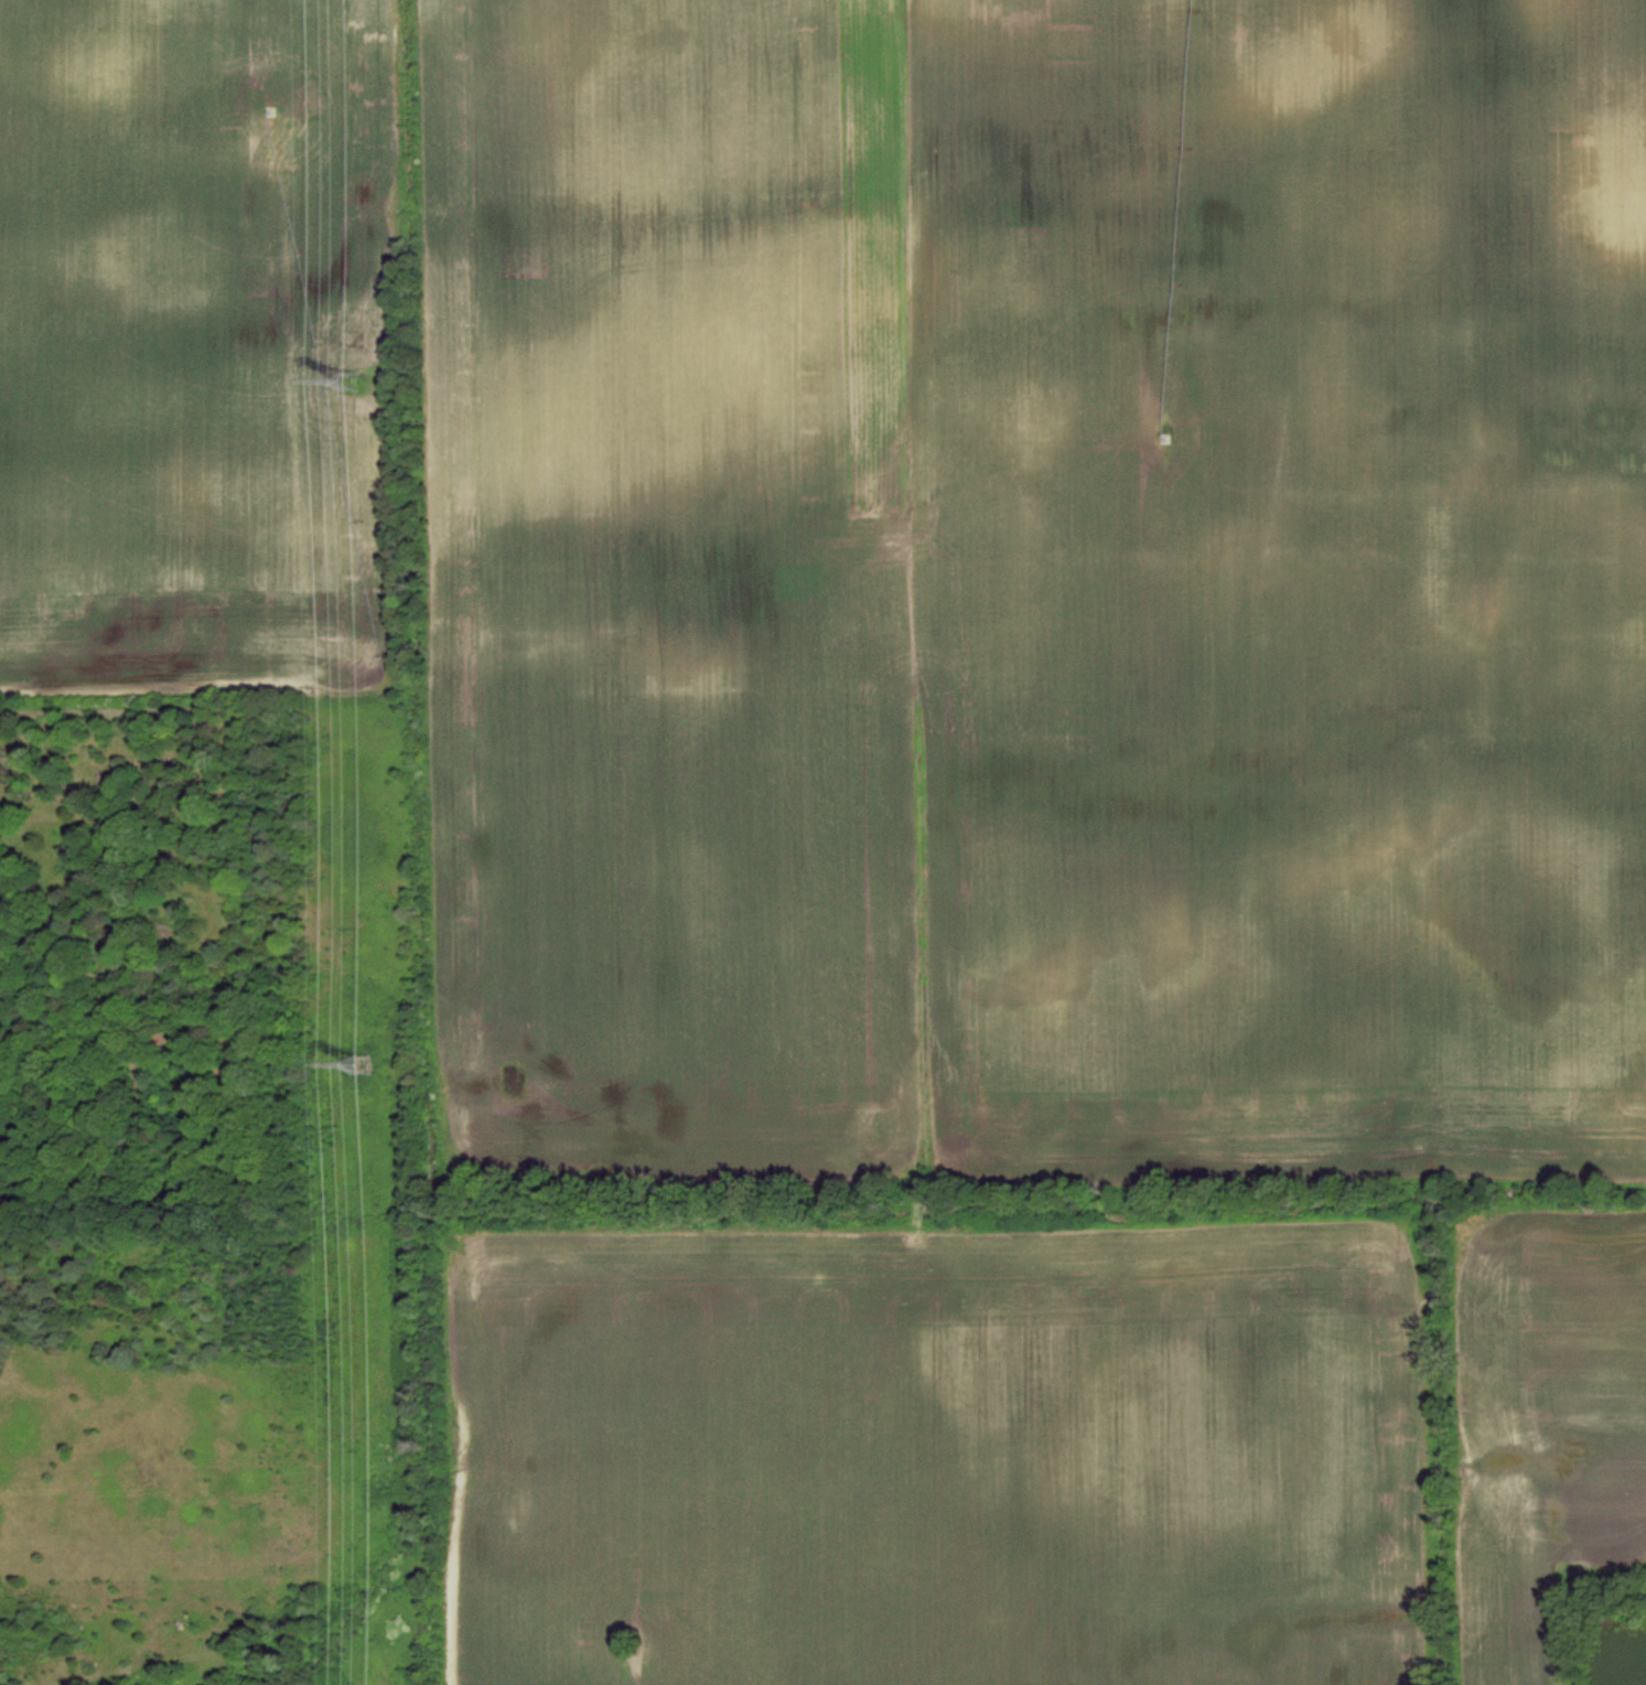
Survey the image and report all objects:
power tower: (352, 382)
power tower: (367, 1064)

